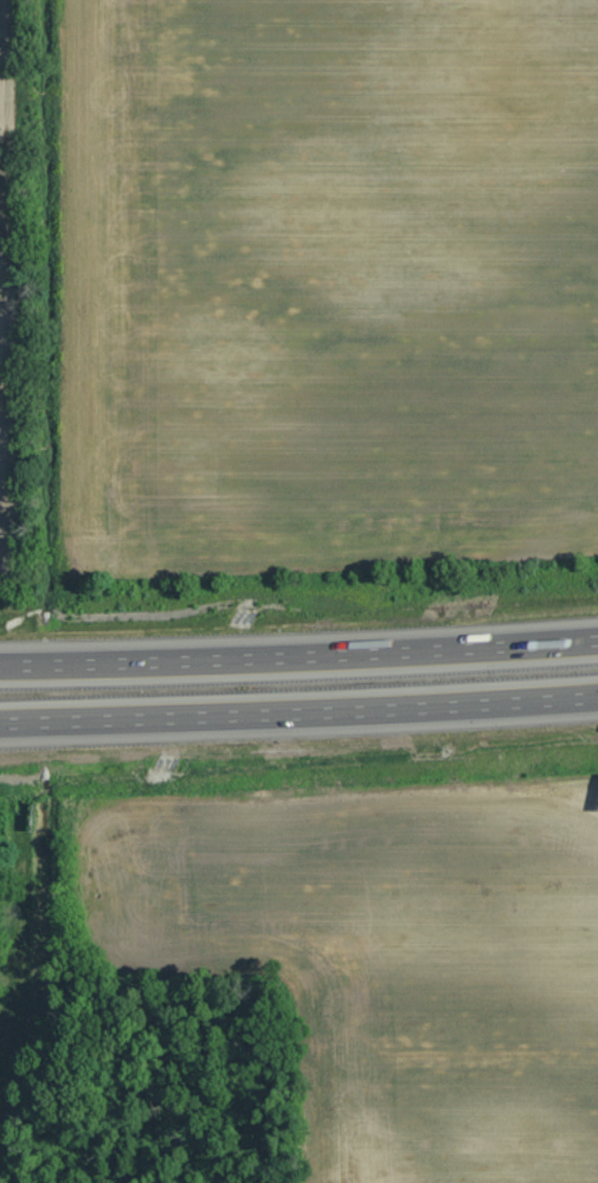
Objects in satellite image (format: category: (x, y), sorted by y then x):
road: (298, 651)
road: (298, 718)

